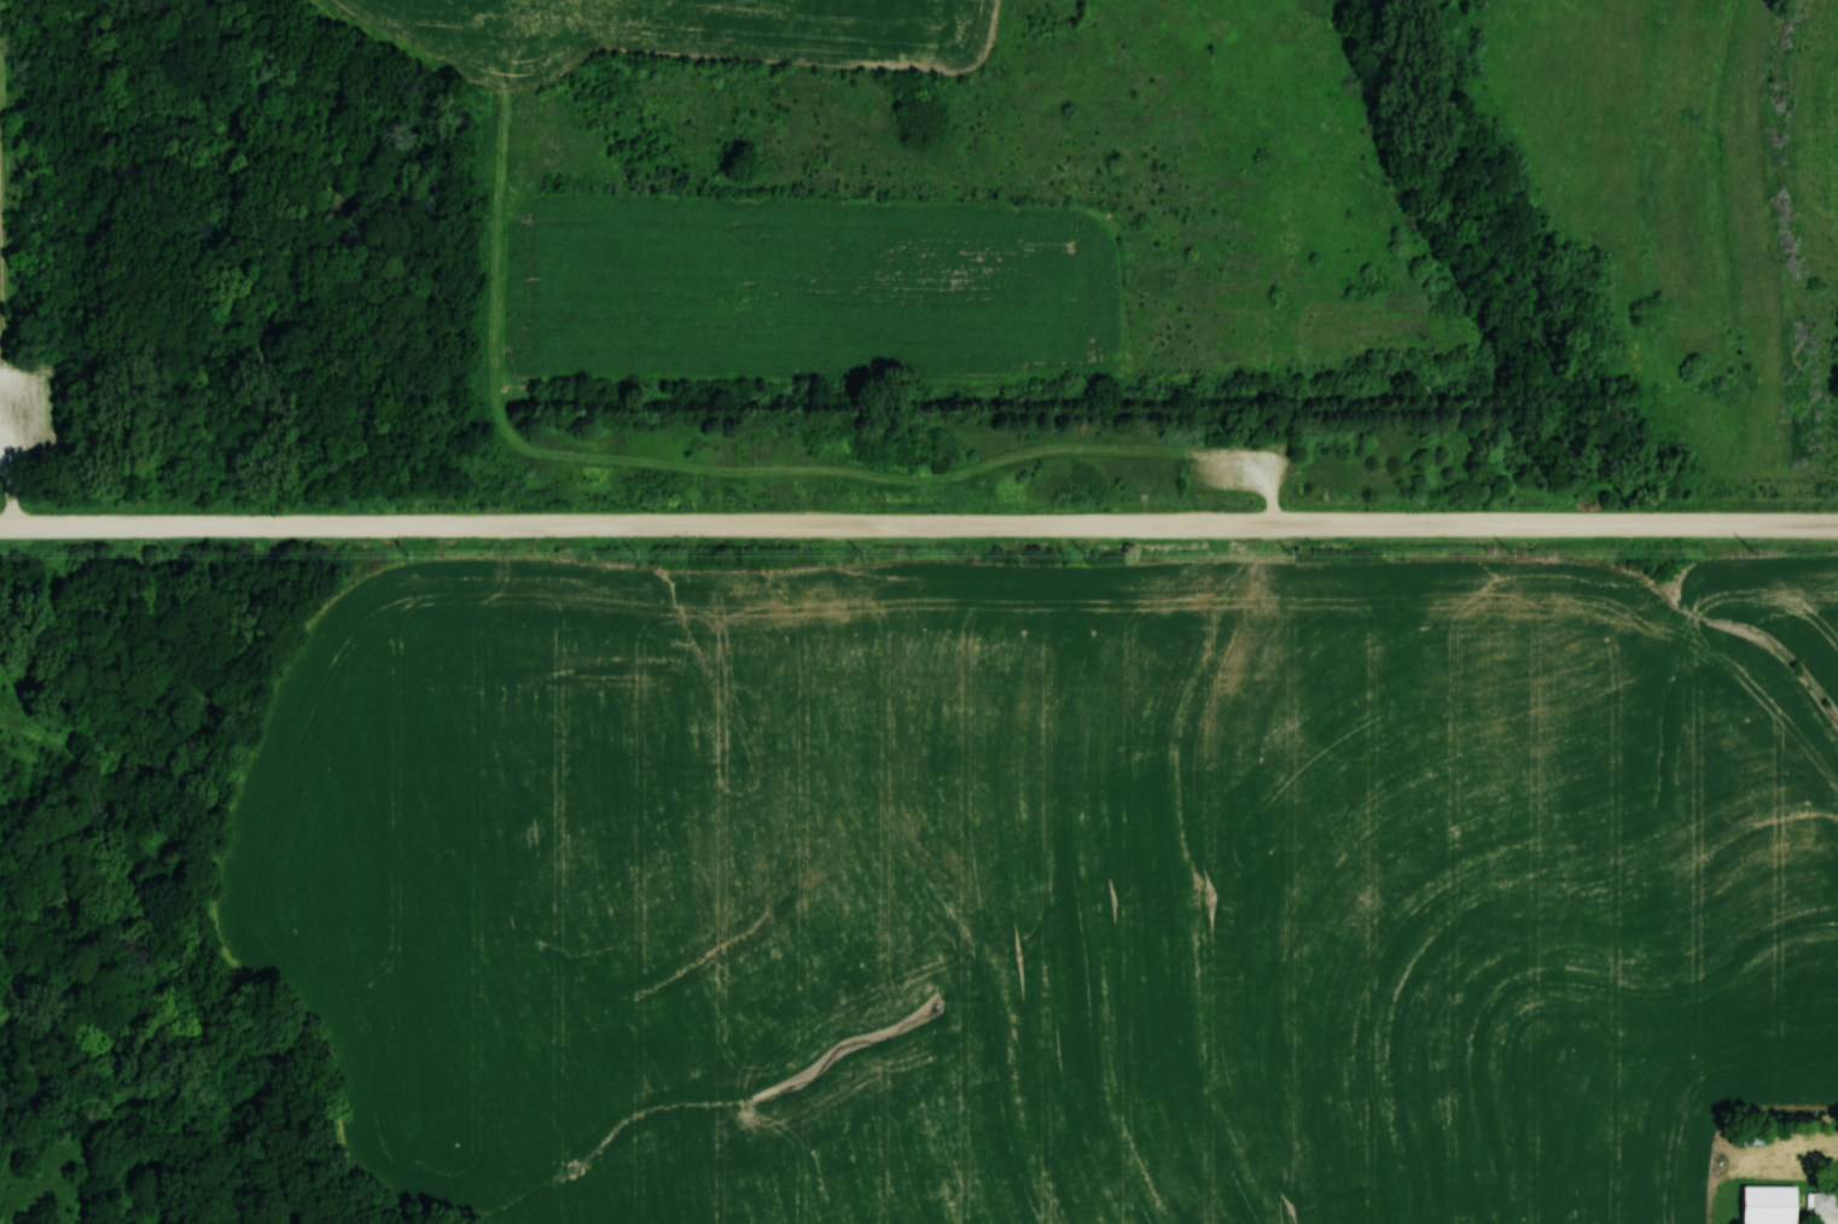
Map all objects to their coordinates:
road: (0, 286)
road: (5, 419)
parking lot: (29, 420)
parking lot: (1234, 467)
road: (10, 500)
road: (1272, 509)
road: (918, 525)
building: (1822, 1200)
building: (1767, 1205)
road: (1836, 1222)

